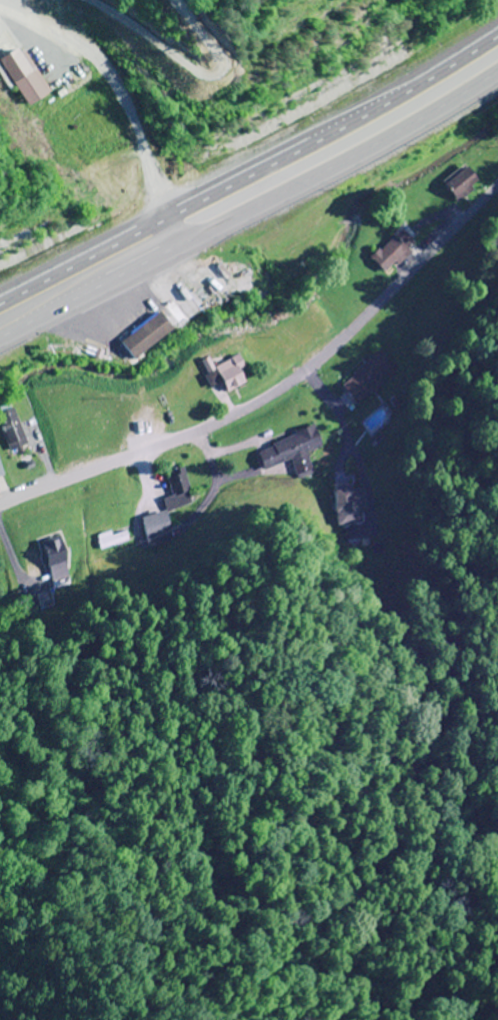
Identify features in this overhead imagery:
road: (251, 172)
building: (462, 182)
road: (252, 218)
building: (394, 252)
building: (148, 336)
building: (228, 374)
building: (370, 377)
road: (276, 382)
building: (12, 431)
building: (81, 439)
building: (293, 451)
building: (2, 473)
building: (351, 506)
building: (169, 513)
building: (113, 539)
building: (58, 559)
road: (80, 757)

